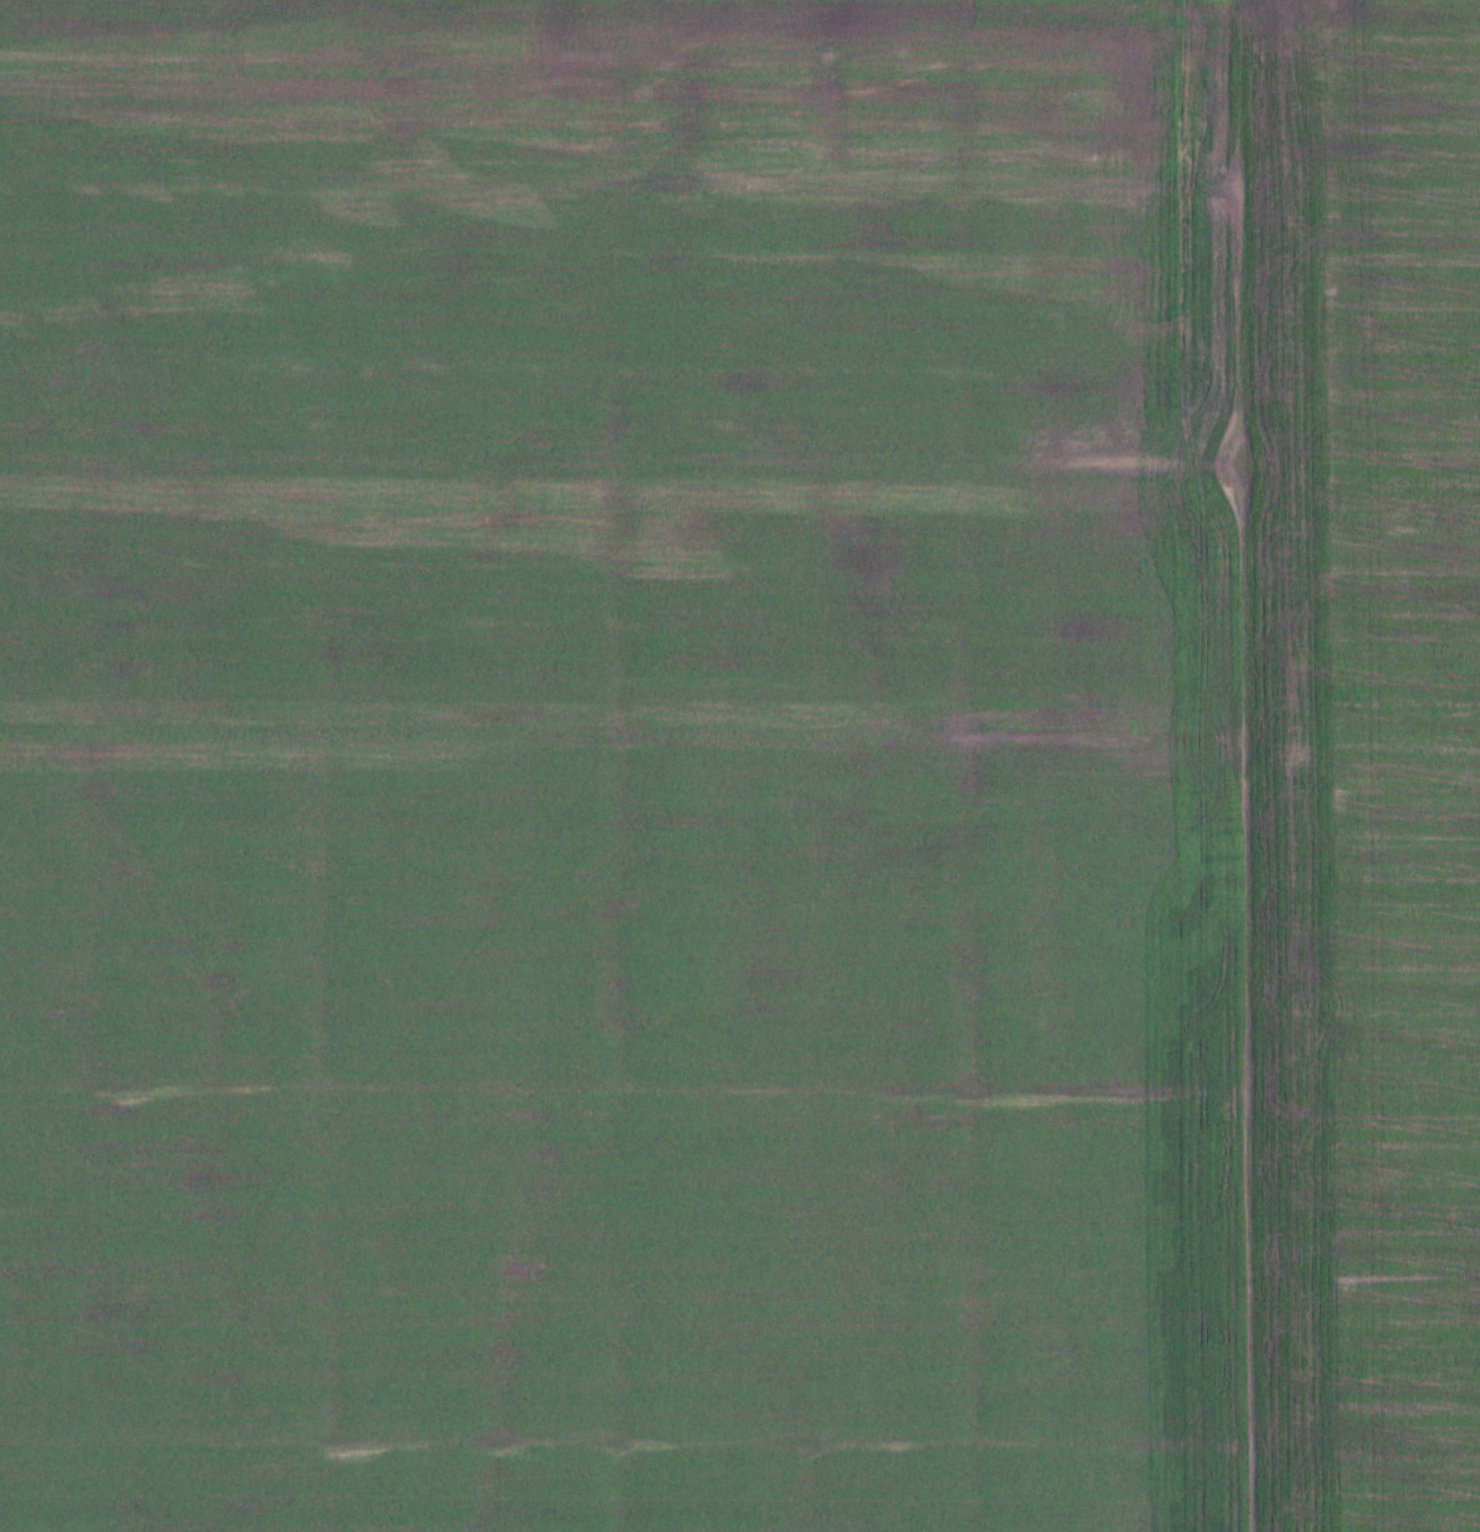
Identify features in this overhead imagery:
crop: (740, 766)

